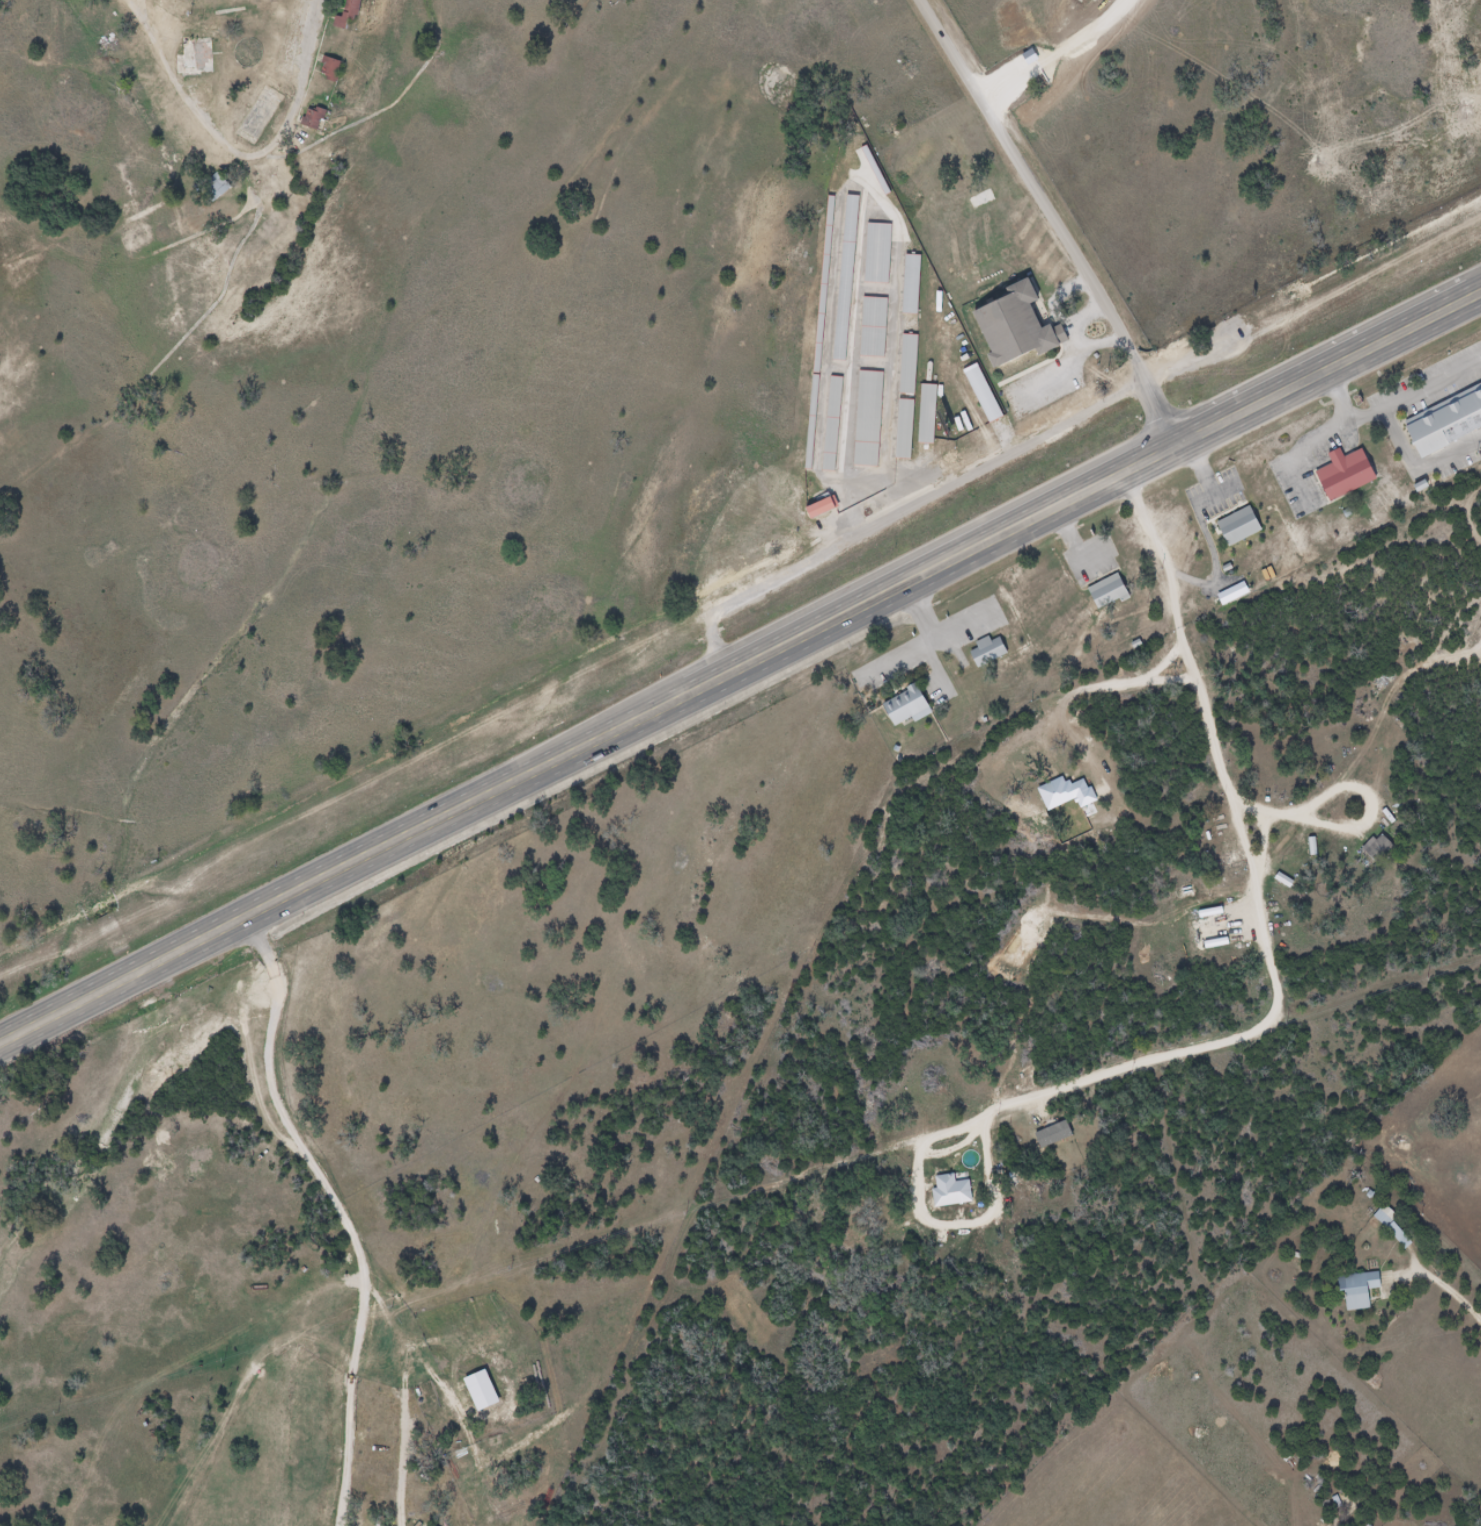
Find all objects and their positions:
road: (164, 54)
building: (335, 68)
building: (318, 119)
building: (224, 186)
road: (1064, 218)
building: (884, 254)
building: (842, 278)
building: (853, 279)
building: (907, 284)
building: (918, 288)
building: (880, 330)
building: (1025, 334)
building: (825, 335)
building: (905, 364)
building: (915, 367)
building: (990, 396)
road: (1346, 401)
building: (924, 414)
building: (934, 416)
building: (875, 420)
road: (1384, 421)
building: (829, 424)
building: (1447, 425)
building: (839, 426)
building: (900, 429)
building: (910, 432)
building: (1352, 478)
road: (1202, 507)
building: (814, 508)
road: (910, 511)
building: (828, 514)
building: (1246, 531)
building: (1115, 595)
building: (995, 653)
road: (738, 669)
building: (914, 709)
building: (1373, 848)
road: (1250, 1032)
building: (1390, 1229)
building: (1354, 1290)
road: (1449, 1296)

